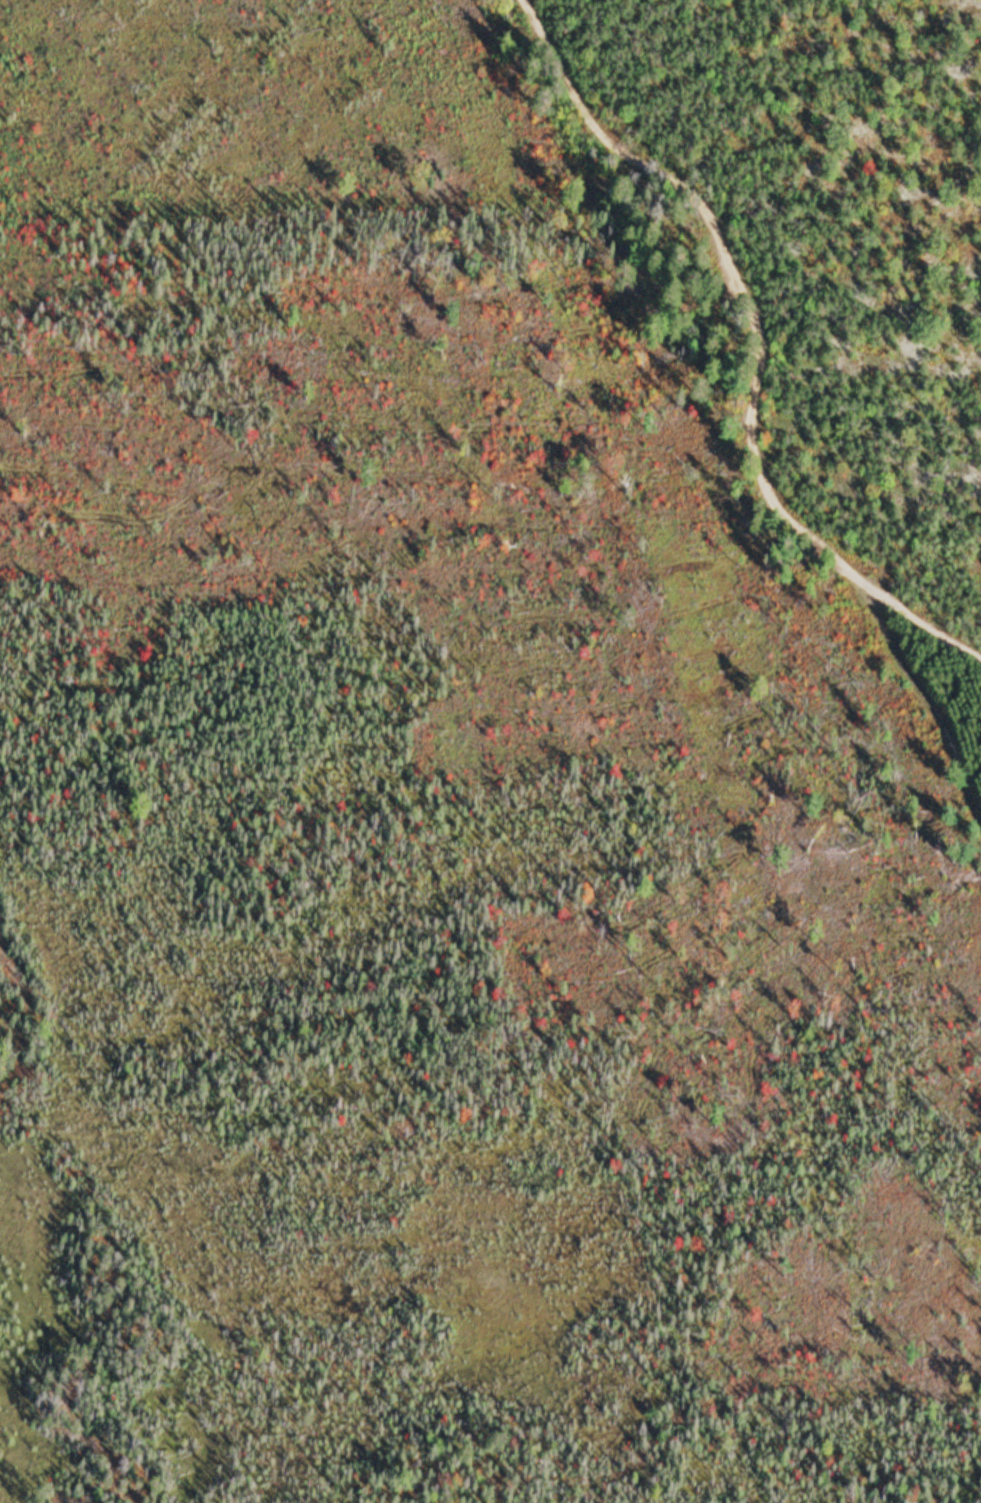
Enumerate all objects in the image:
road: (717, 365)

